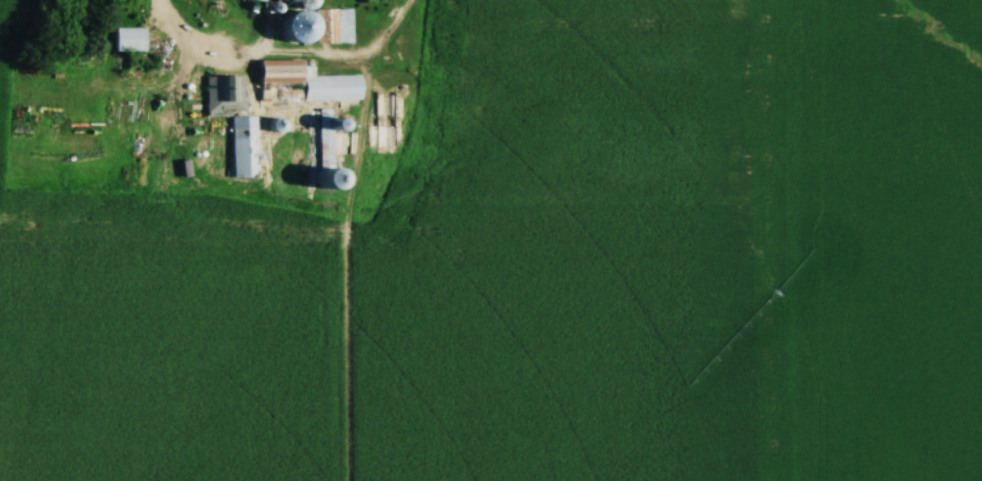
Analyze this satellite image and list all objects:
building: (254, 9)
building: (335, 25)
building: (128, 39)
road: (283, 43)
building: (329, 85)
building: (242, 144)
building: (323, 153)

